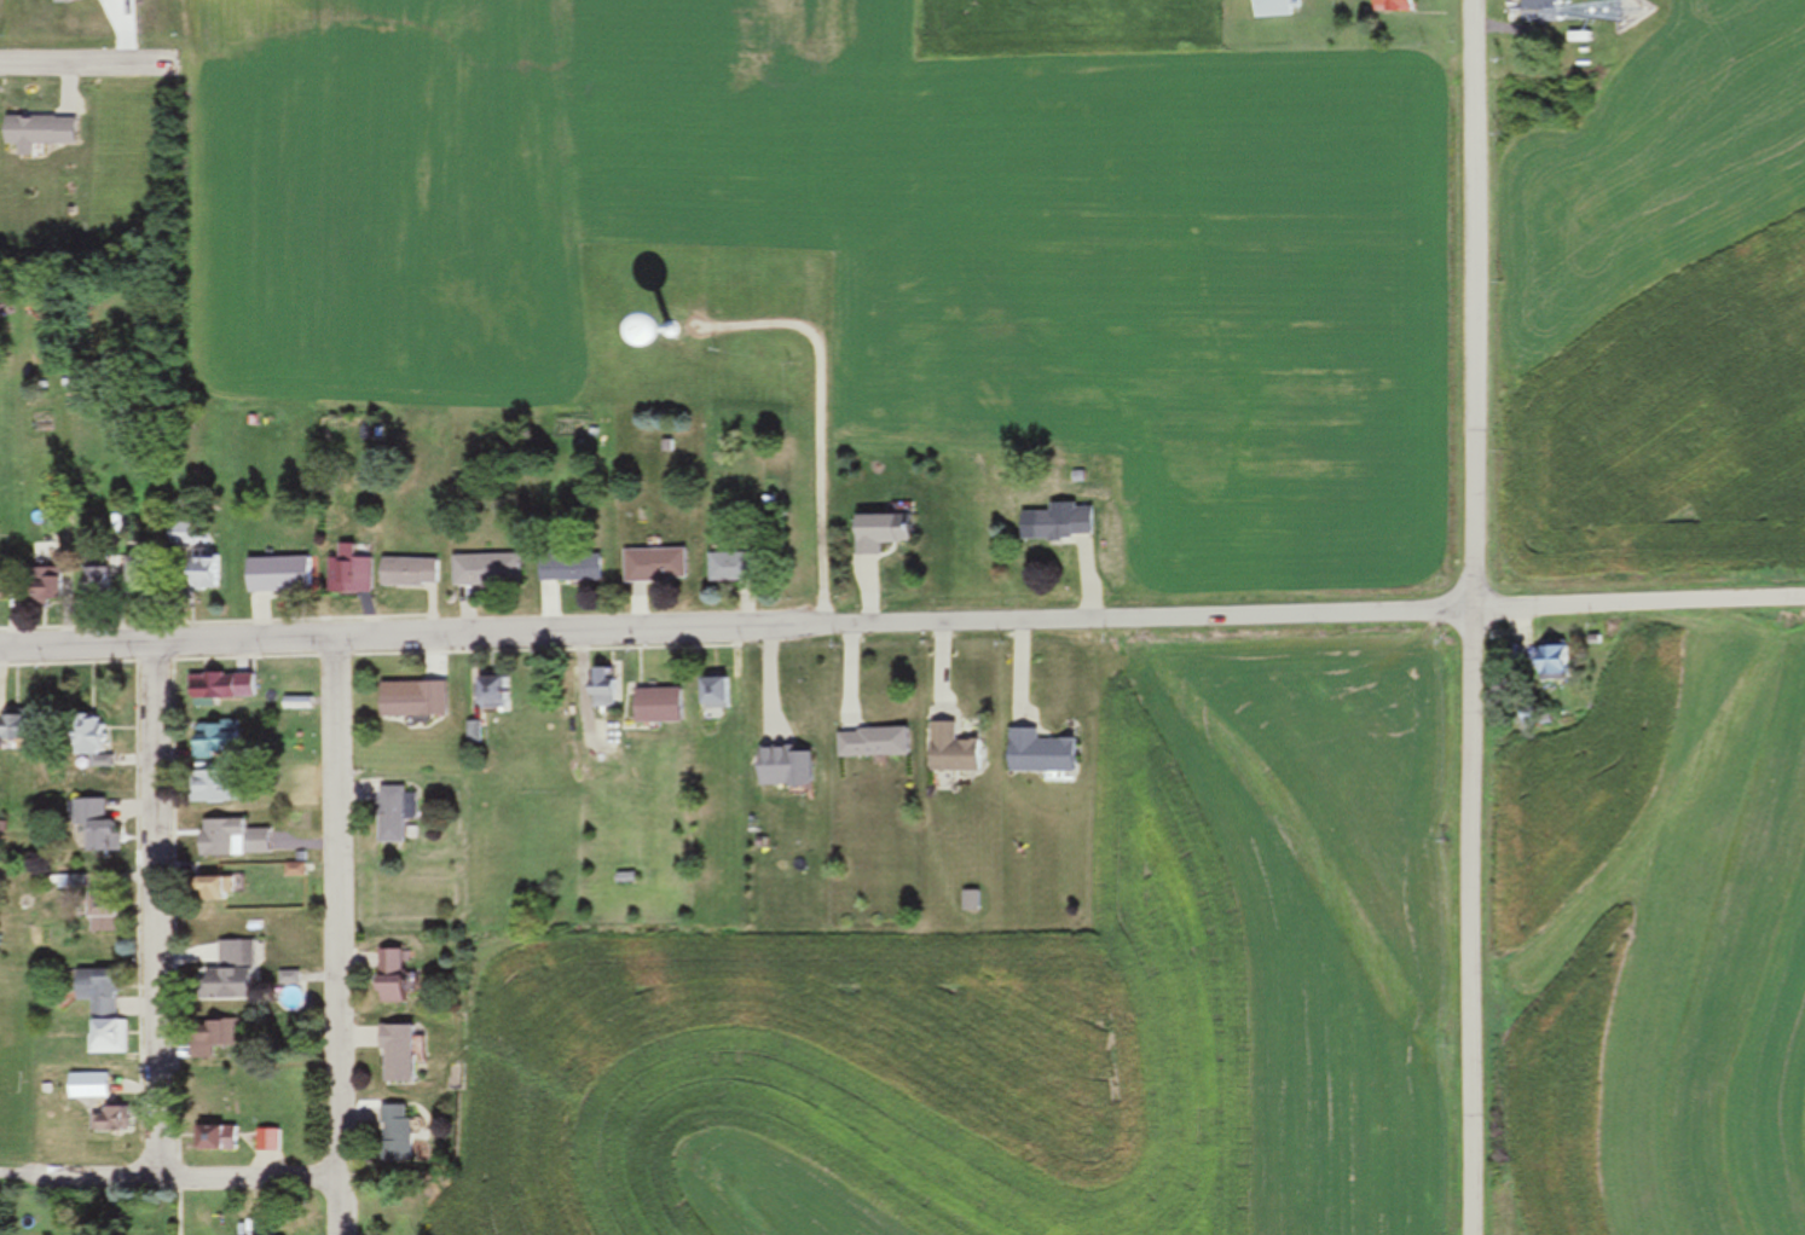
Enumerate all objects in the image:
building: (1390, 6)
building: (1271, 8)
road: (83, 64)
building: (36, 132)
water tower: (665, 337)
building: (1058, 526)
building: (877, 533)
building: (179, 535)
building: (650, 567)
building: (566, 568)
building: (724, 568)
building: (484, 572)
building: (198, 573)
building: (347, 573)
building: (407, 574)
building: (274, 575)
building: (91, 584)
building: (36, 586)
road: (1637, 605)
road: (1470, 617)
road: (735, 630)
building: (1544, 663)
building: (215, 688)
building: (596, 688)
building: (486, 692)
building: (708, 694)
building: (407, 703)
building: (652, 707)
building: (10, 727)
building: (82, 741)
building: (208, 741)
building: (868, 743)
building: (945, 750)
building: (1036, 754)
building: (777, 769)
building: (206, 788)
building: (386, 813)
building: (91, 828)
building: (227, 840)
building: (619, 879)
building: (206, 891)
road: (152, 910)
building: (97, 912)
road: (334, 937)
building: (224, 975)
building: (384, 978)
building: (92, 992)
building: (102, 1038)
building: (204, 1038)
building: (390, 1055)
building: (86, 1086)
building: (104, 1120)
building: (389, 1133)
building: (209, 1138)
building: (261, 1140)
road: (167, 1175)

